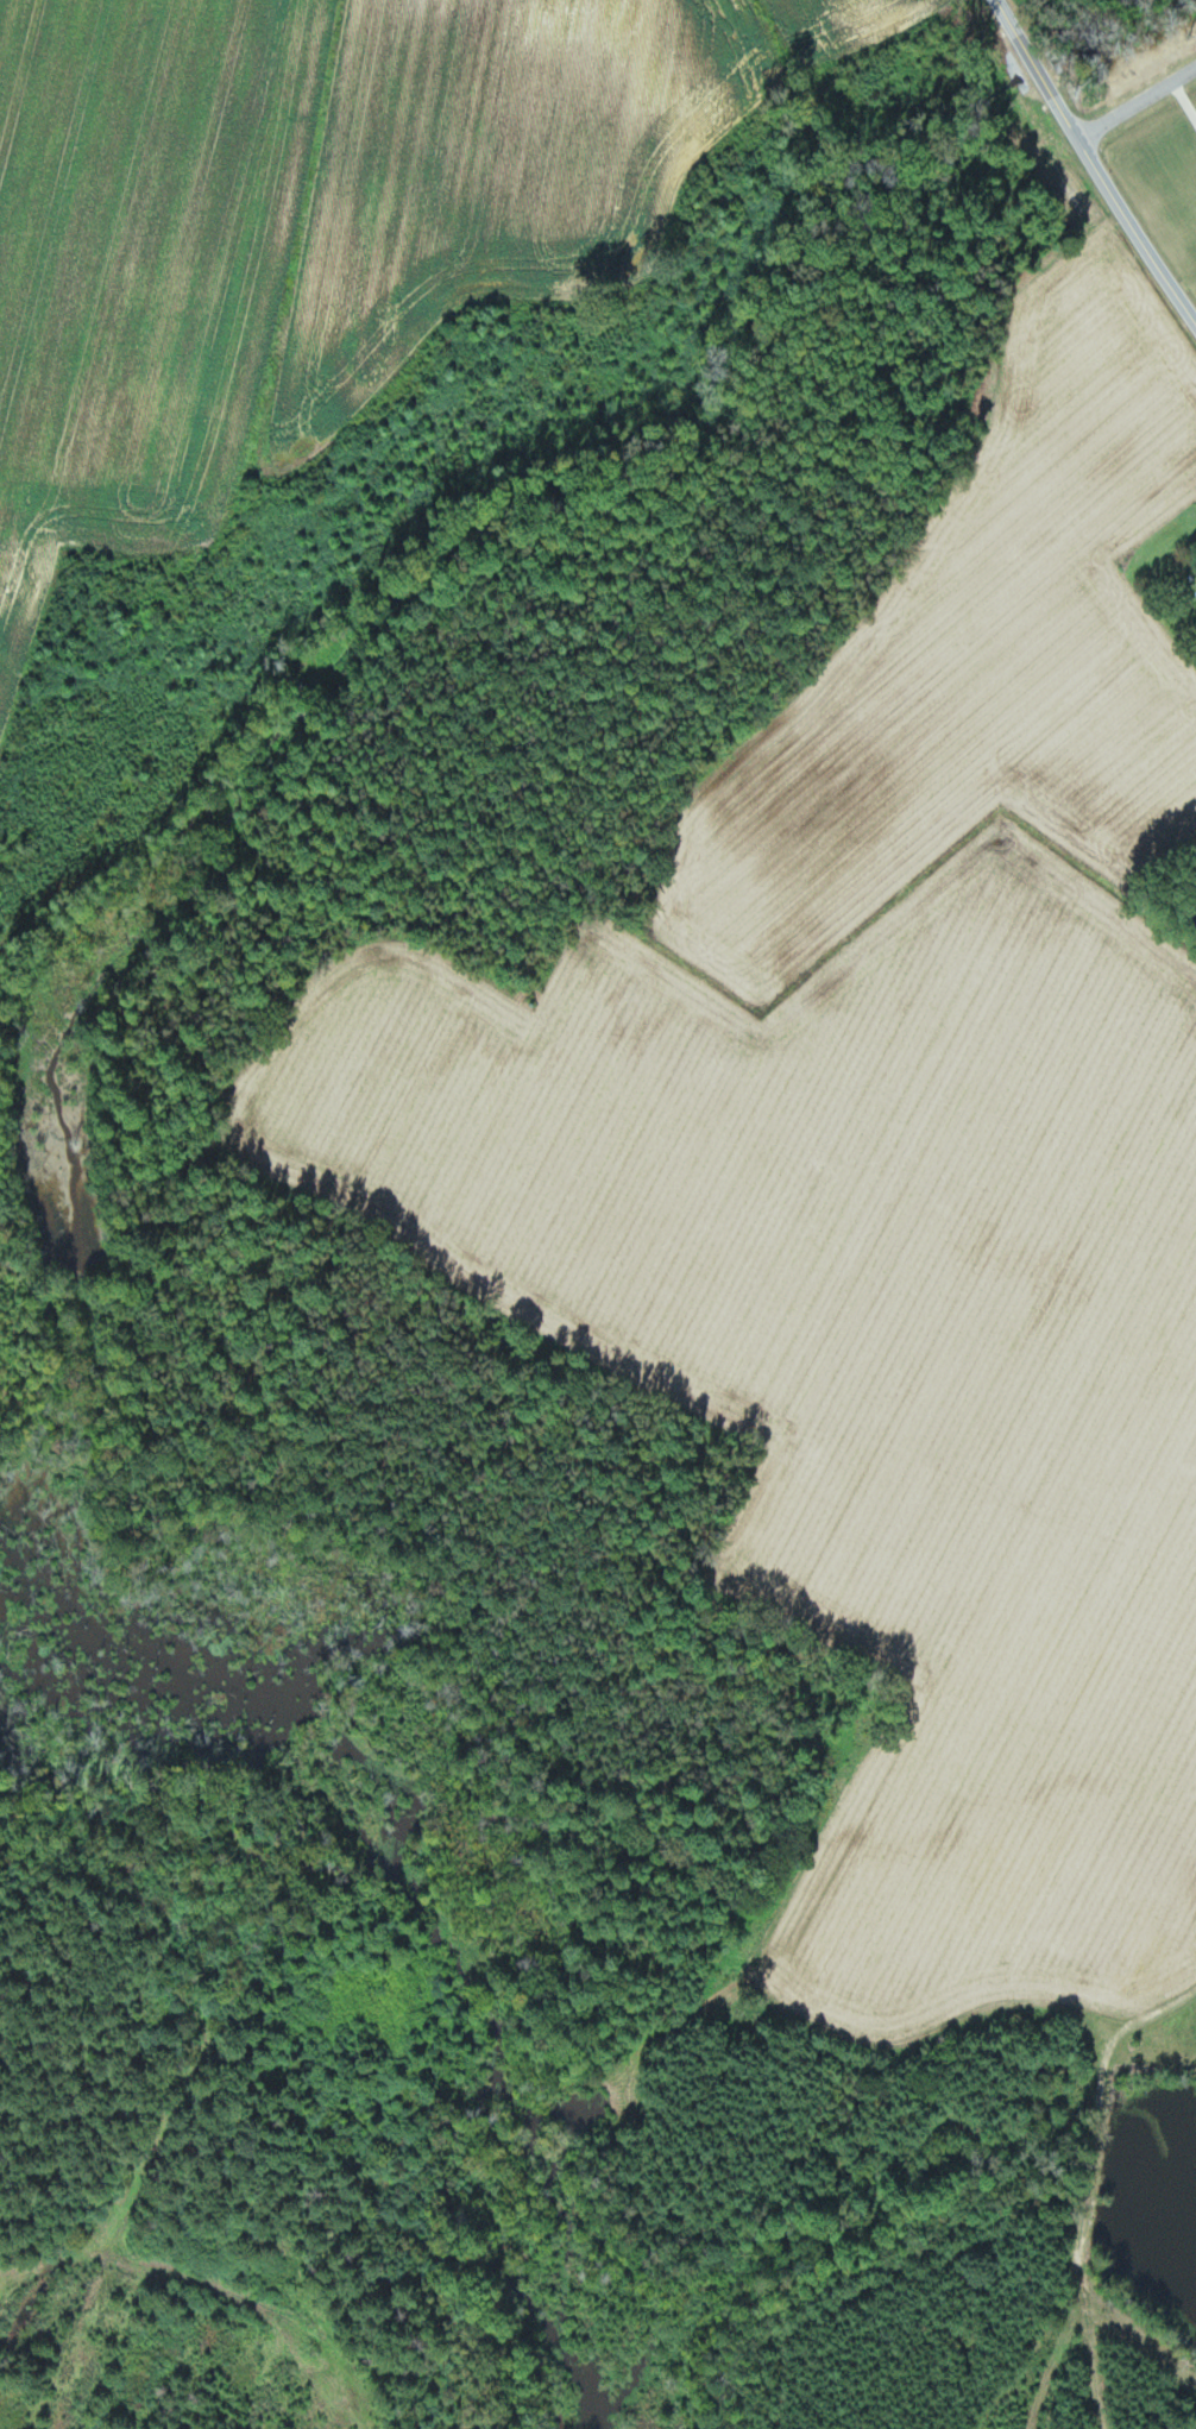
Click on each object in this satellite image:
road: (1139, 105)
road: (1094, 158)

